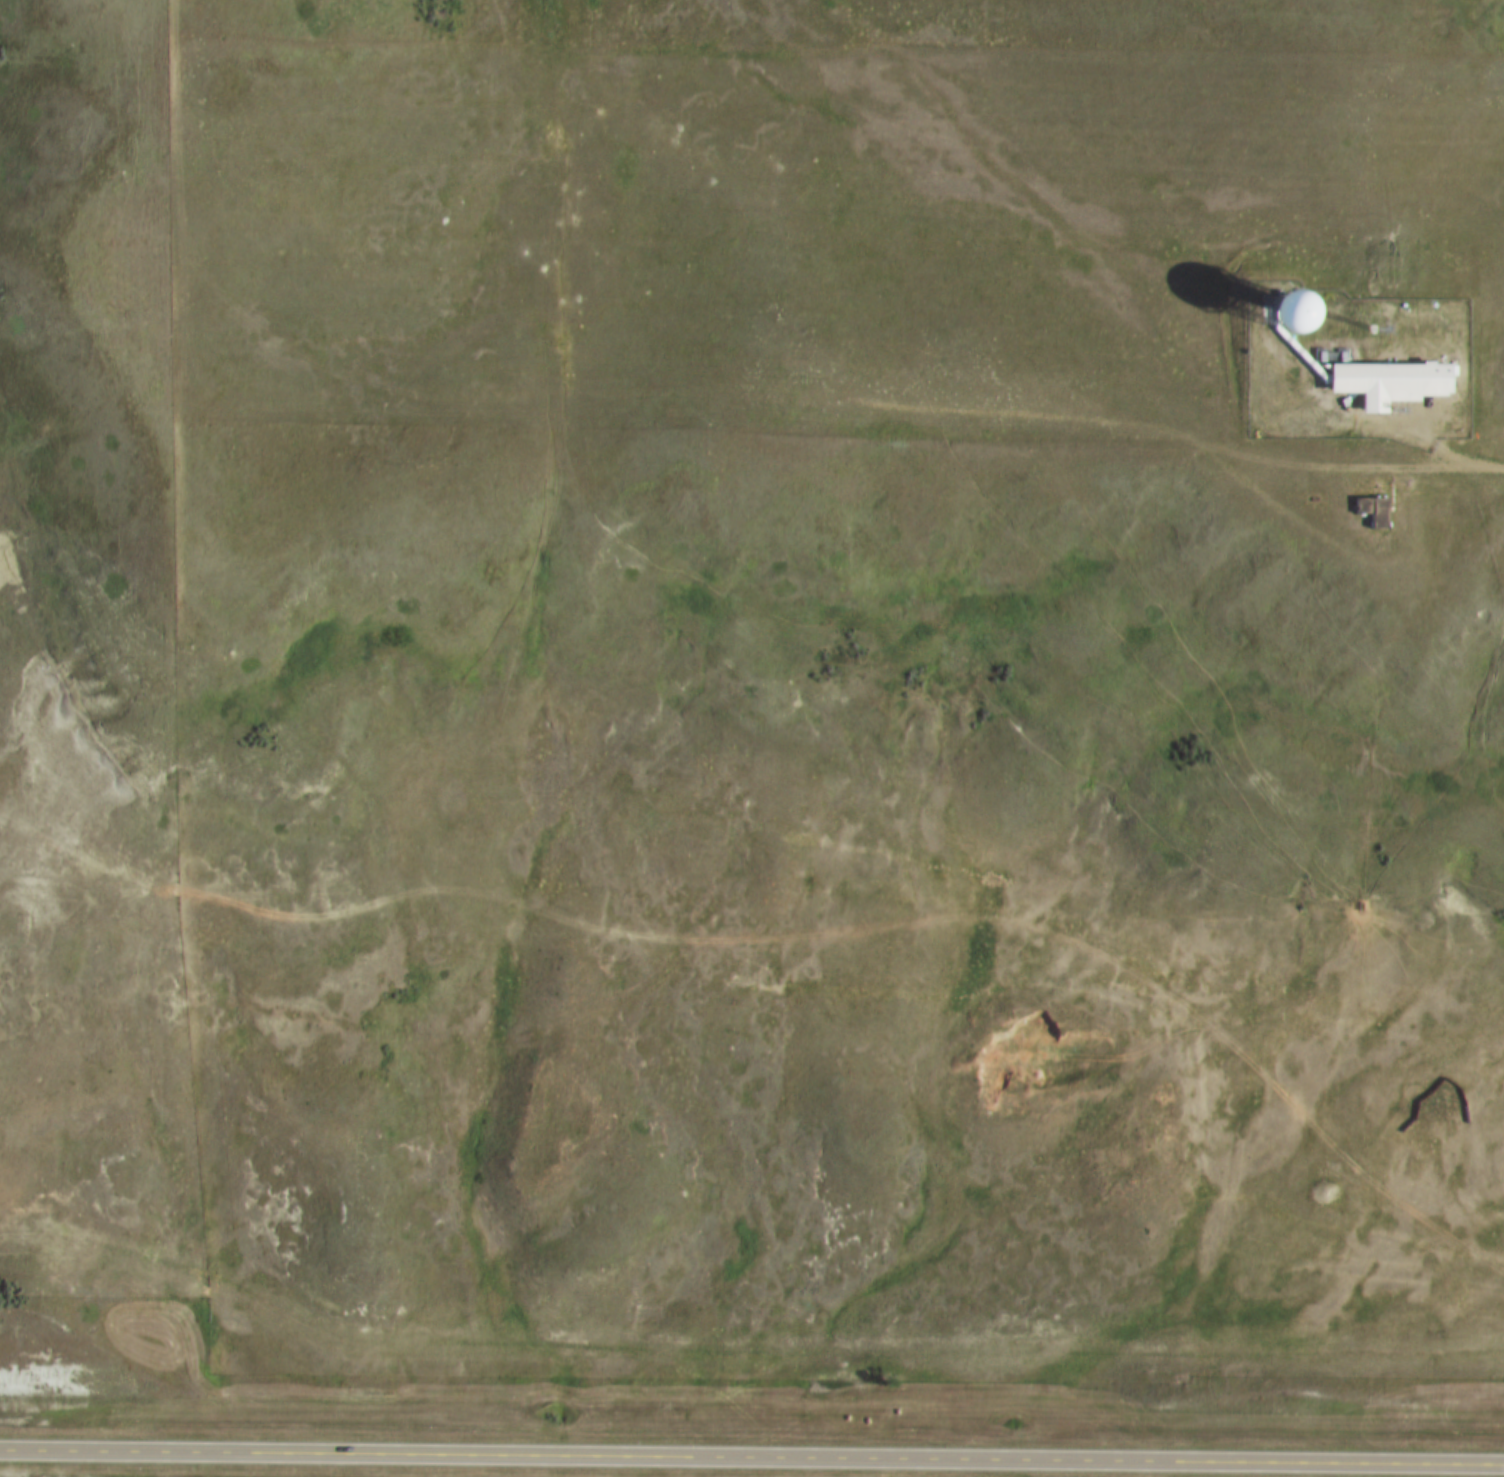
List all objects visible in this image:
building: (1245, 307)
building: (1380, 382)
road: (1446, 469)
building: (1366, 511)
road: (786, 946)
road: (752, 1456)

